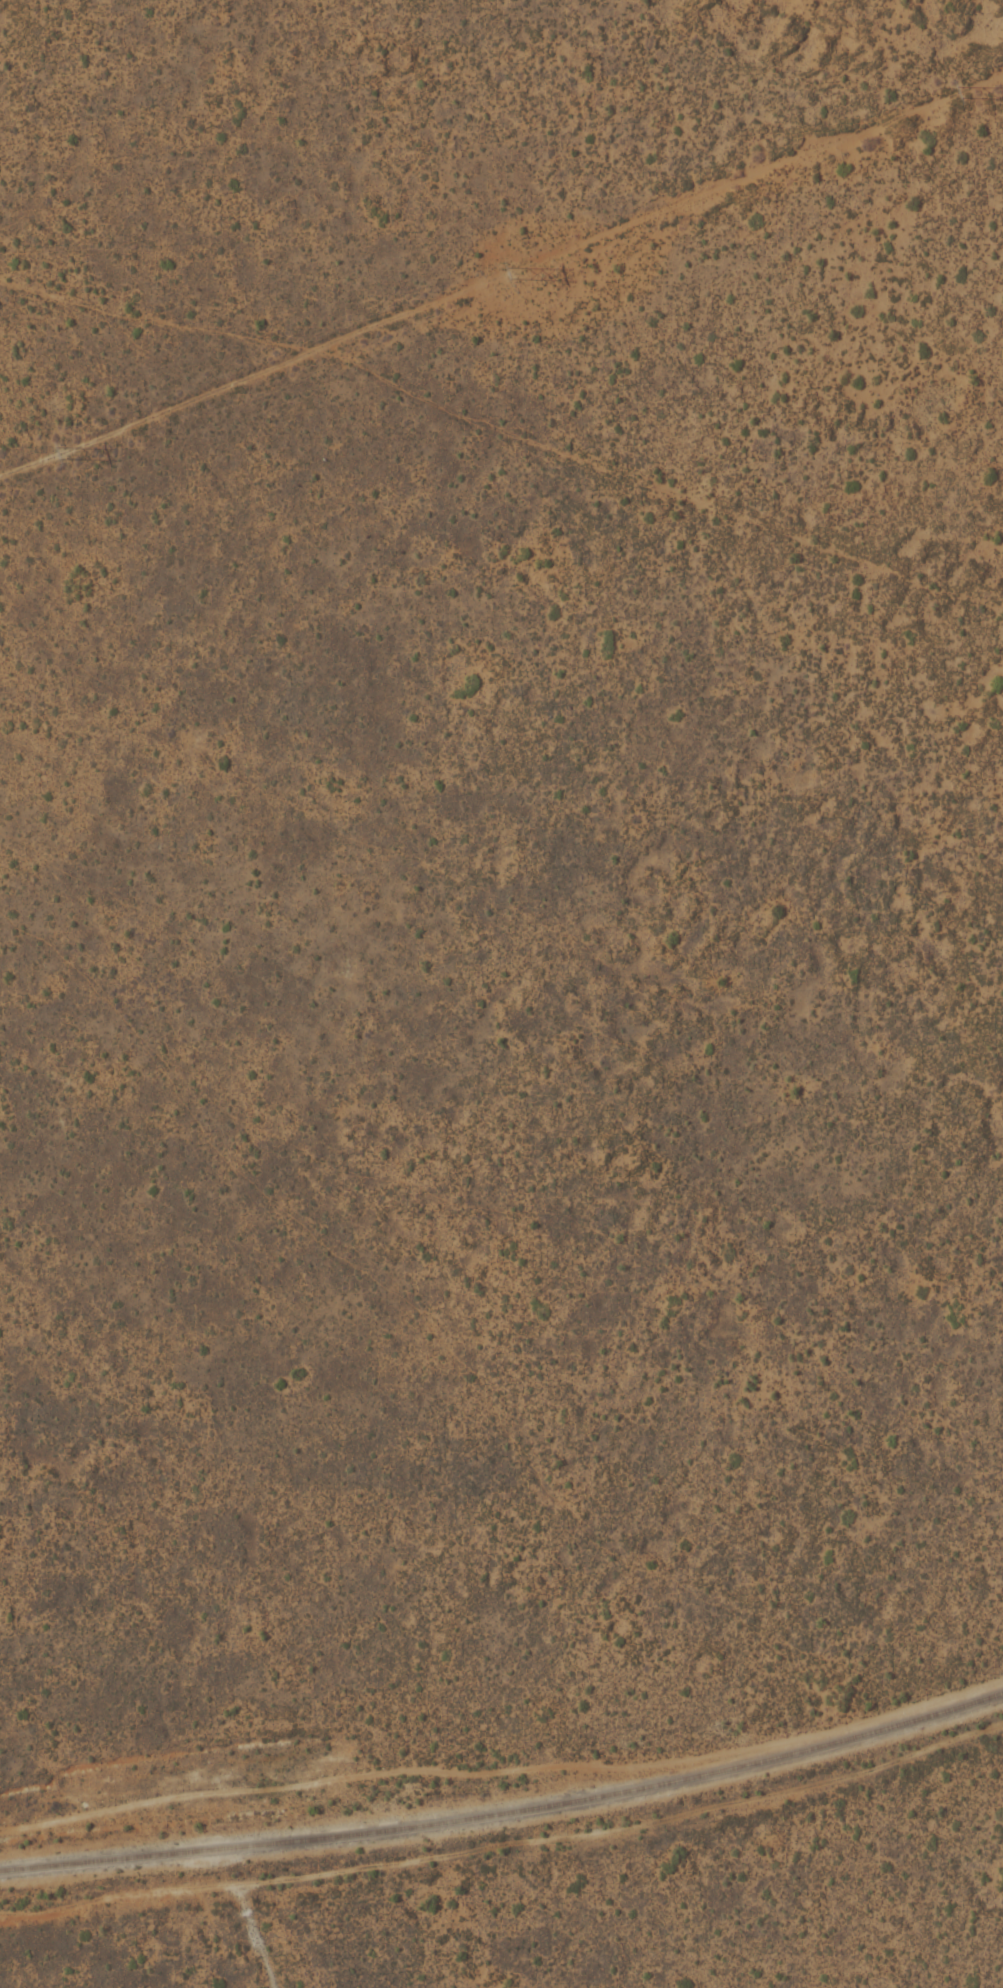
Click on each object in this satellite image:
power tower: (960, 89)
power tower: (509, 270)
power tower: (60, 452)
railway: (507, 1811)

